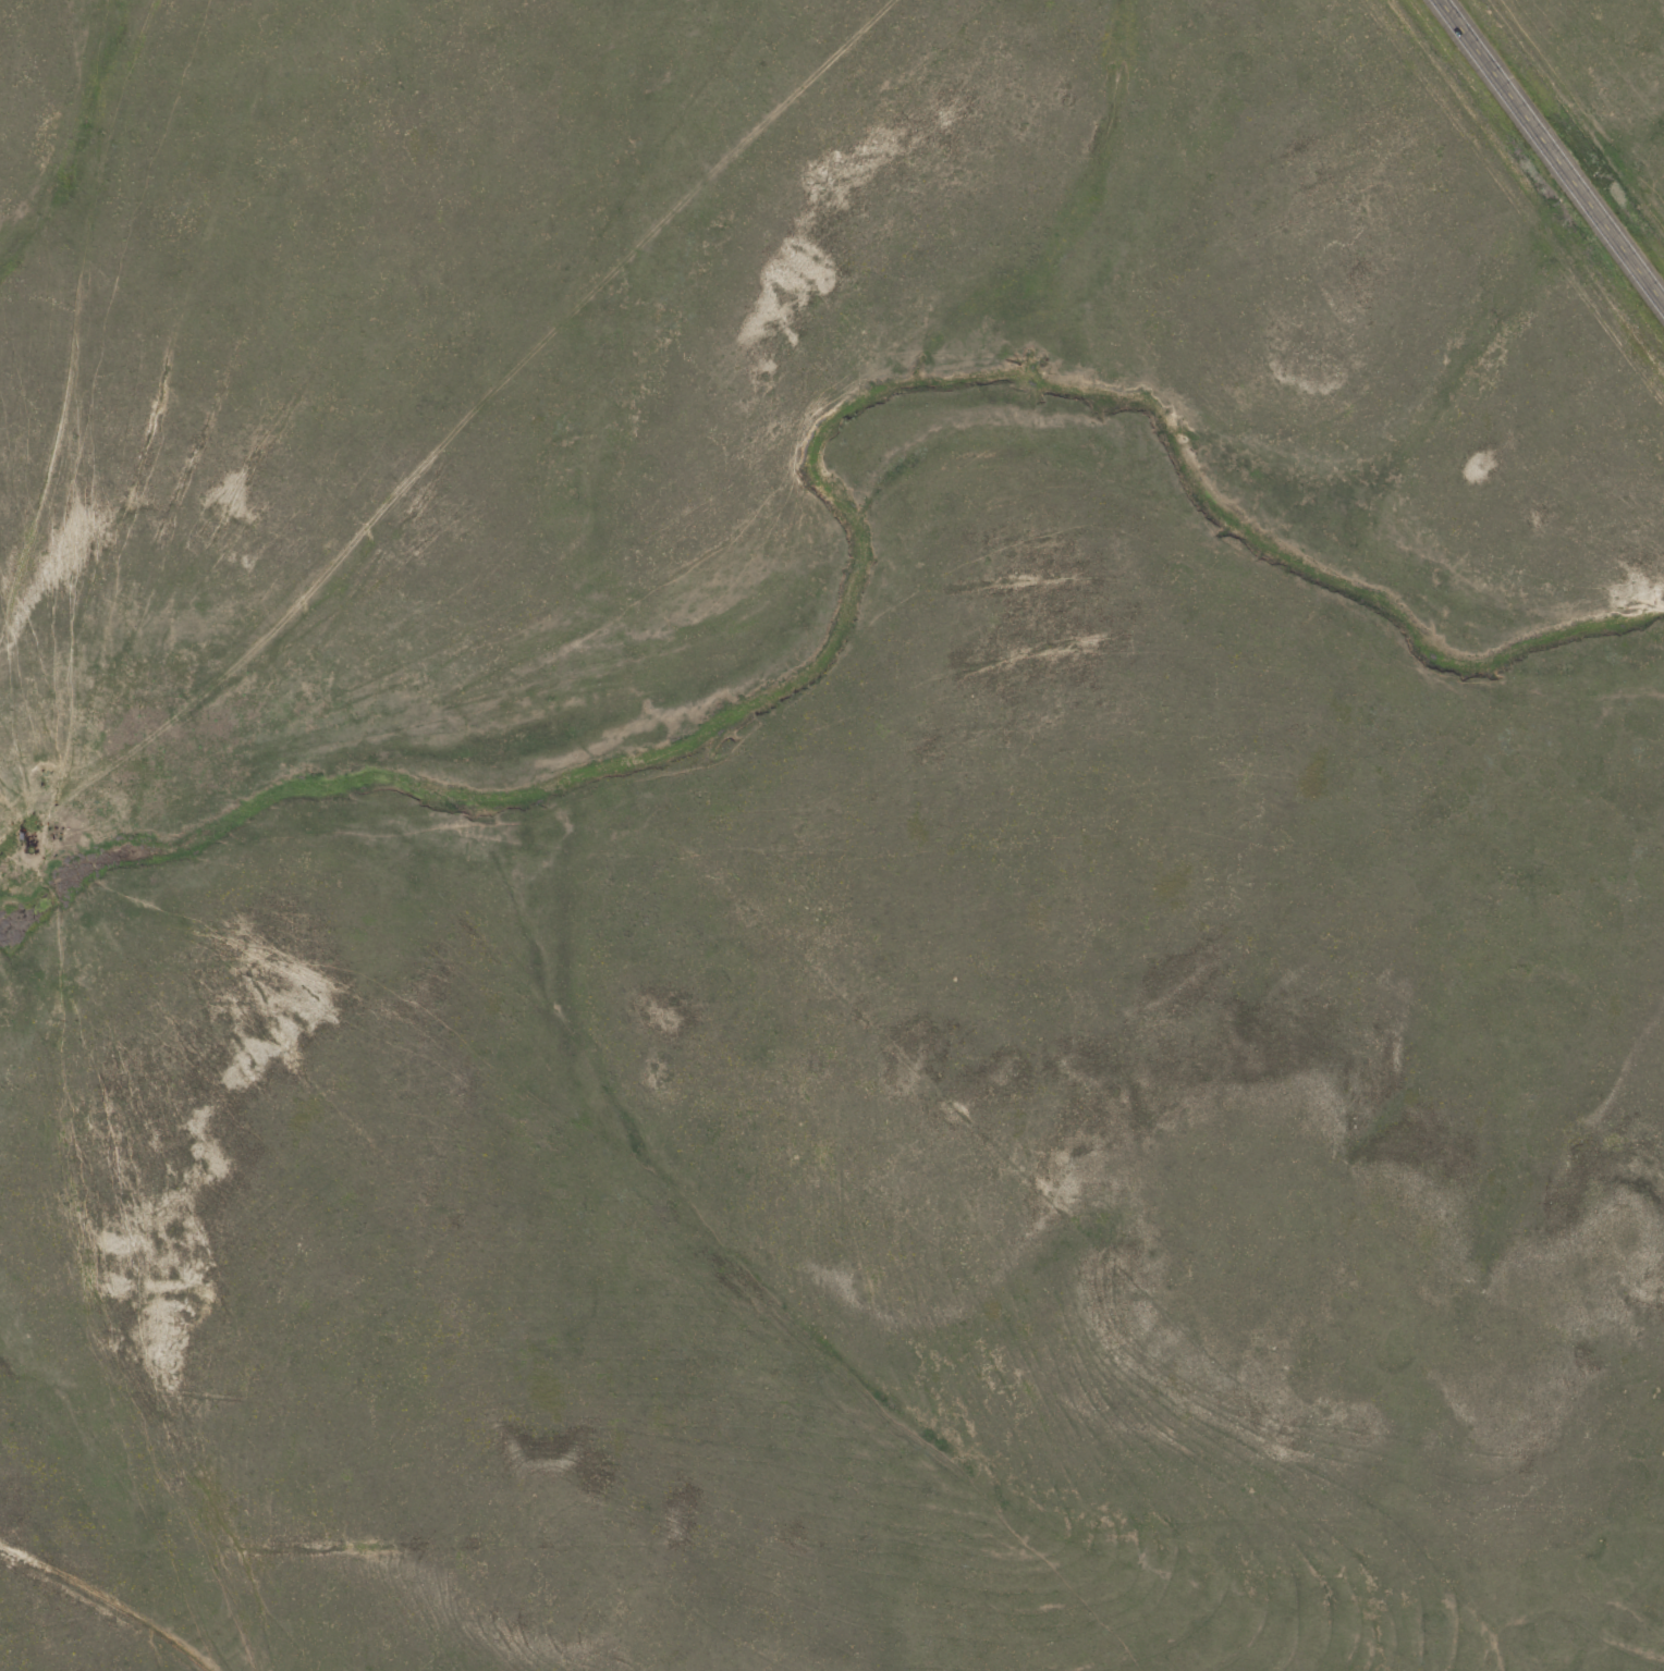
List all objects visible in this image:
road: (1554, 148)
road: (8, 849)

